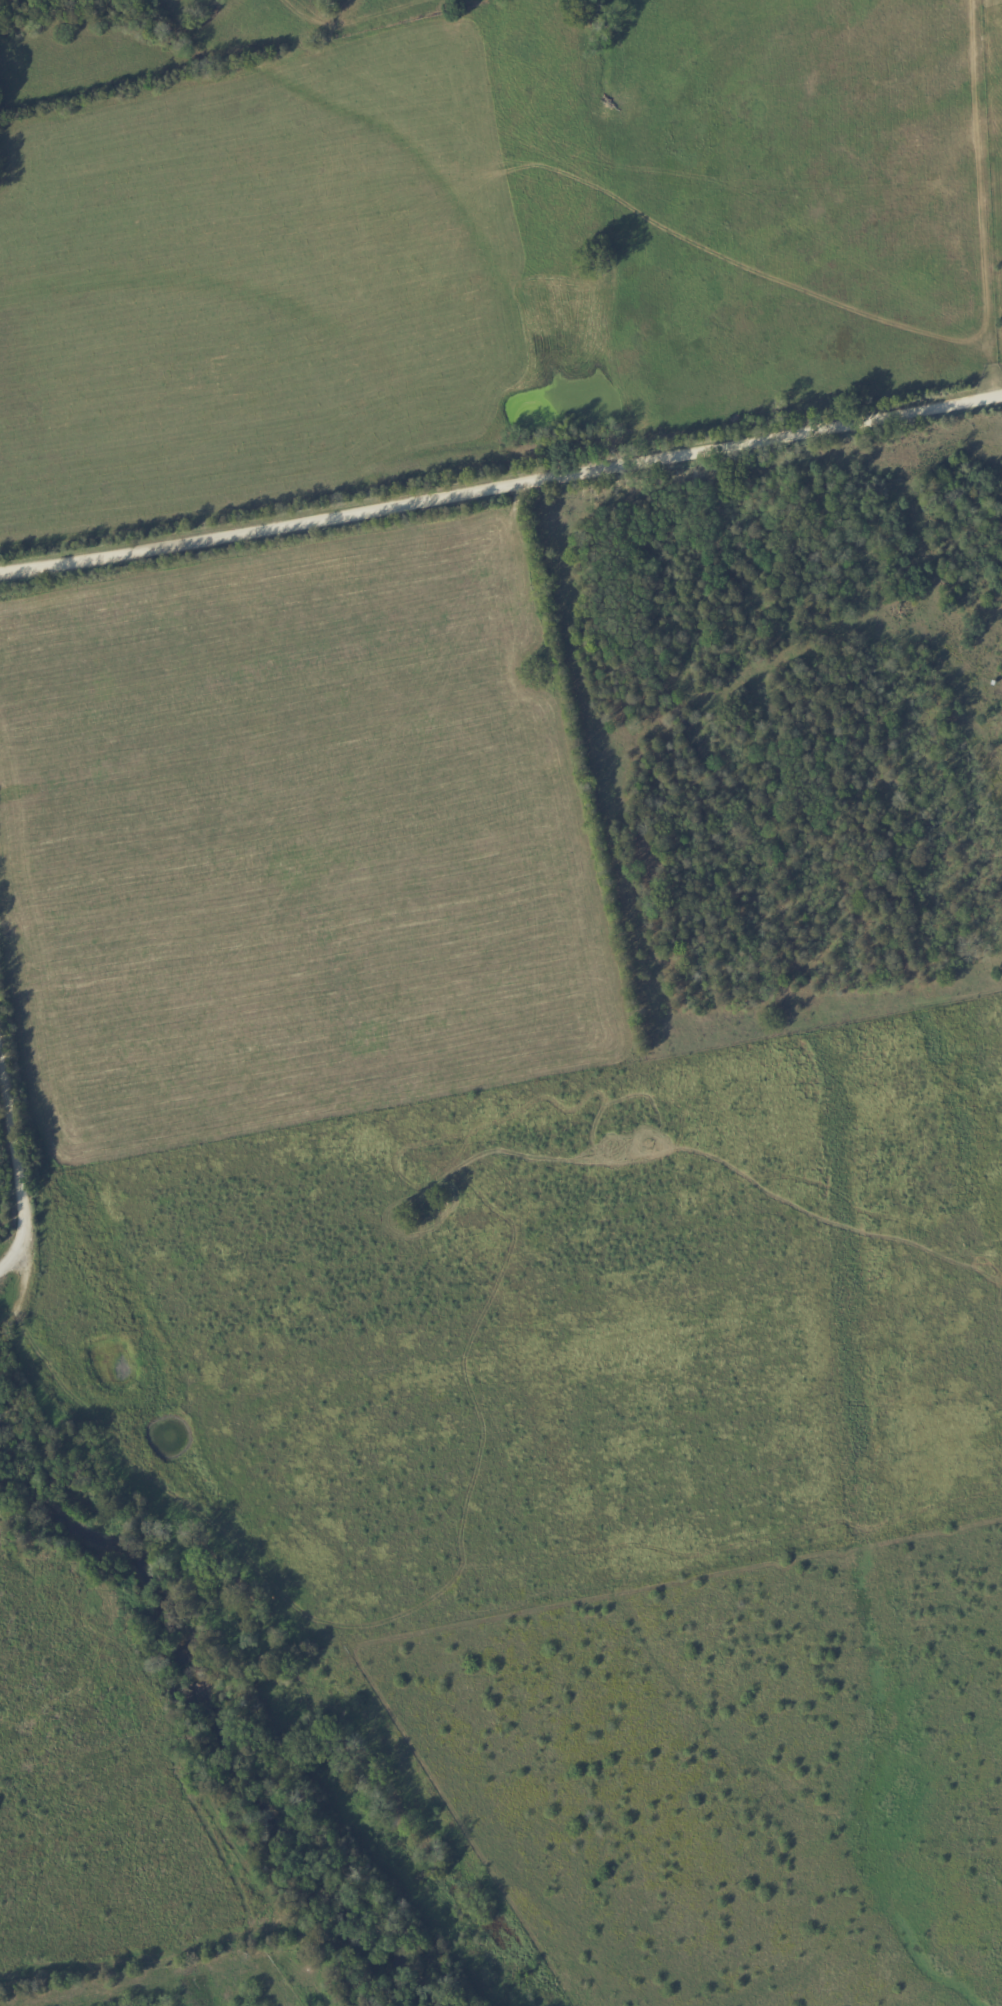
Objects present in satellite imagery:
road: (501, 489)
road: (22, 1164)

